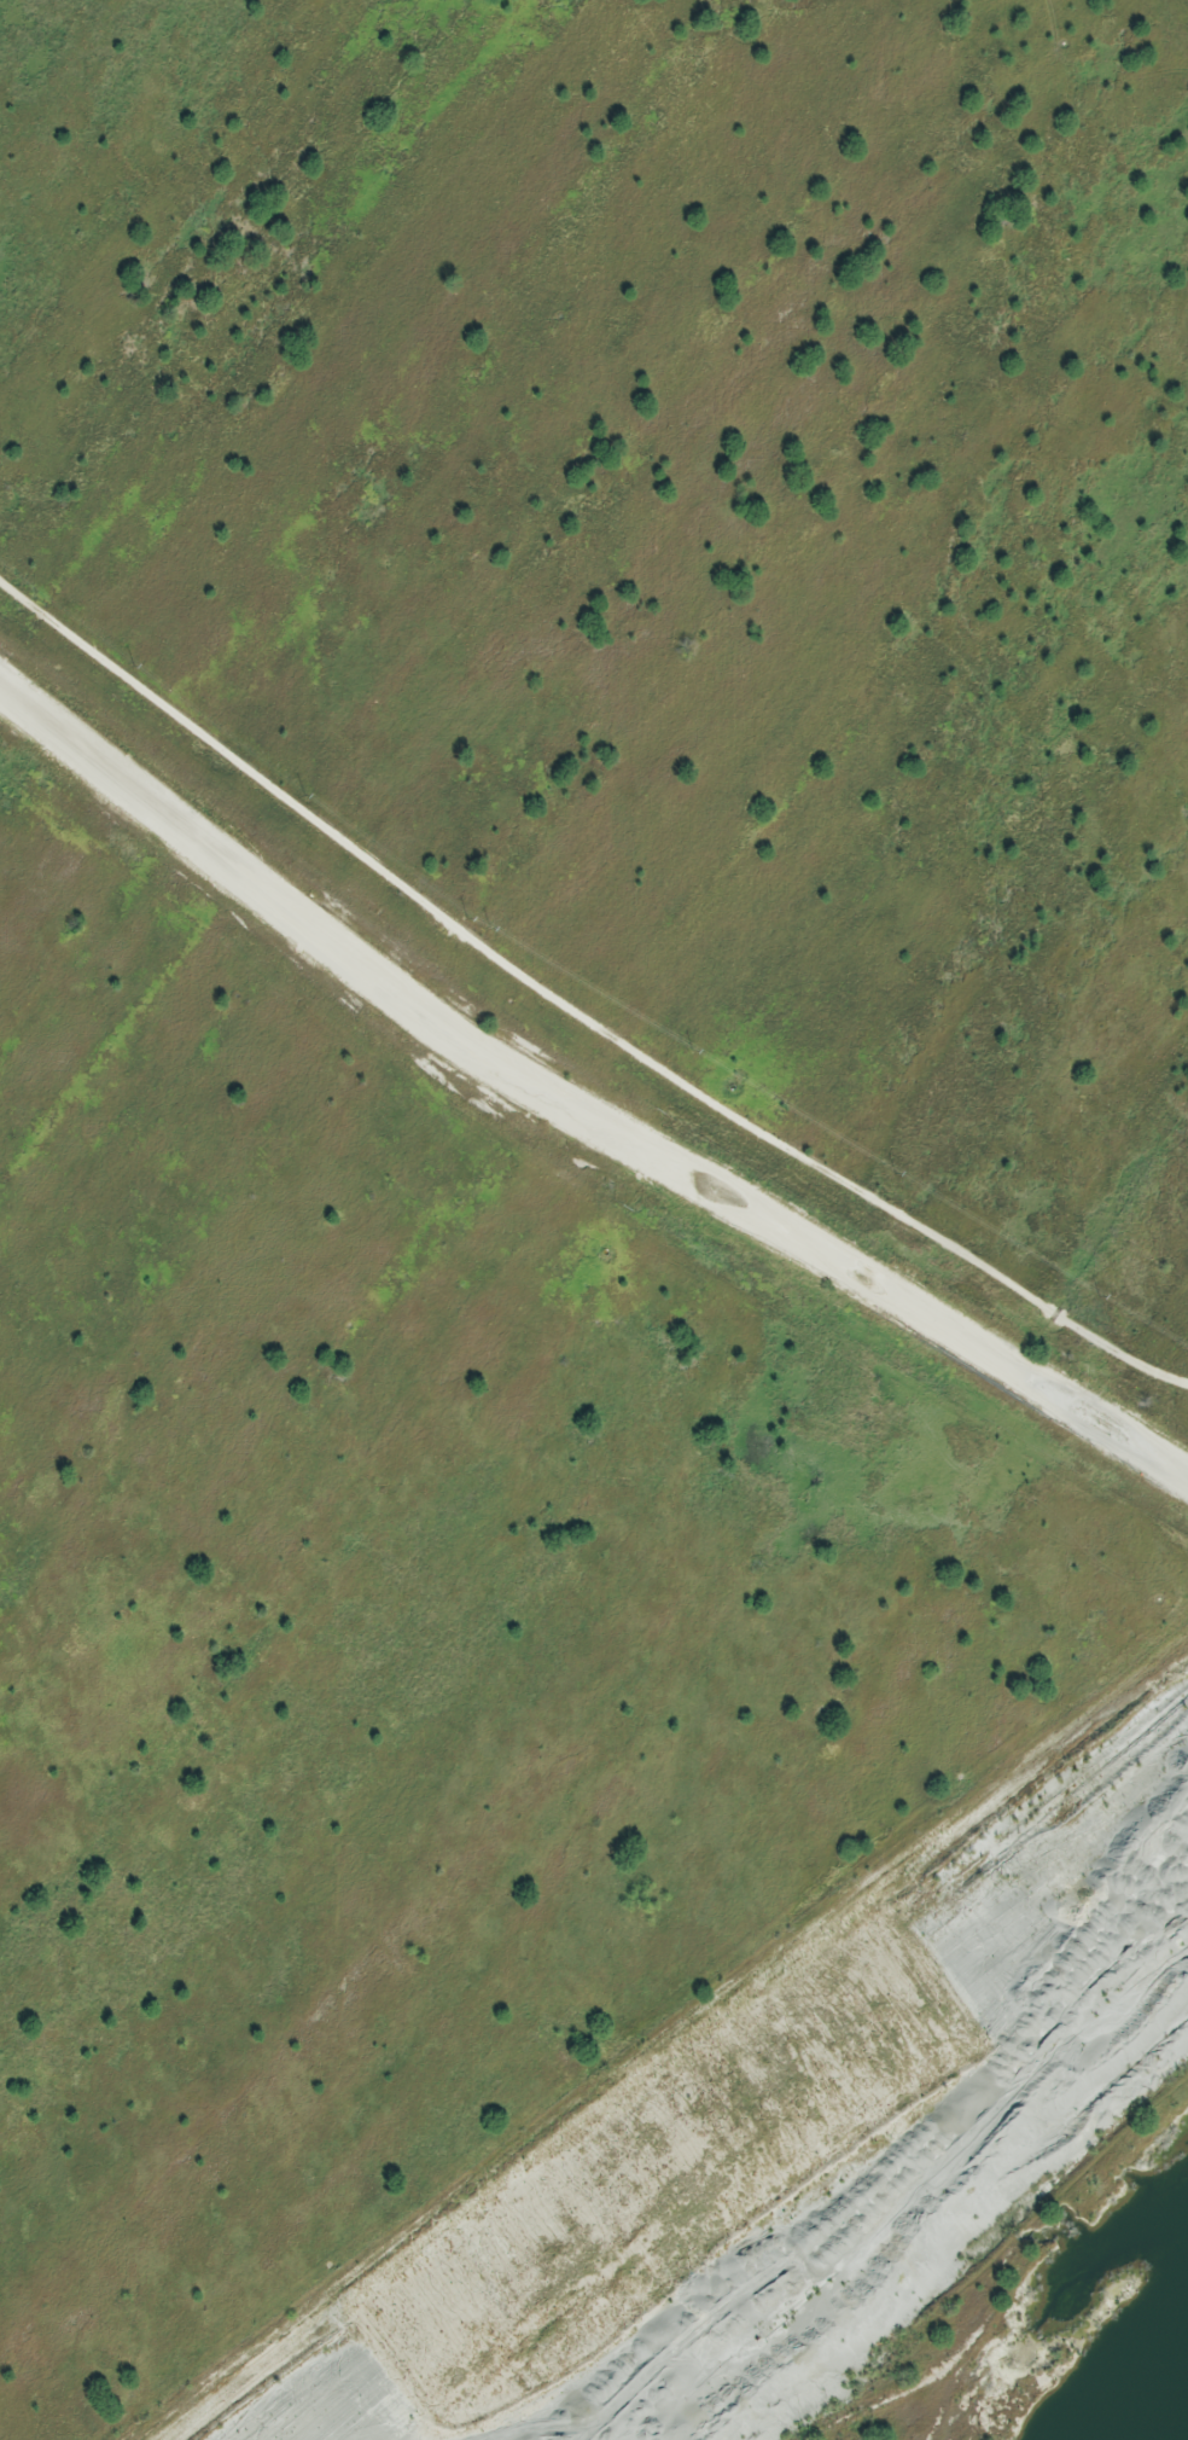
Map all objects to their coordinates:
road: (578, 998)
quarry: (594, 1220)

